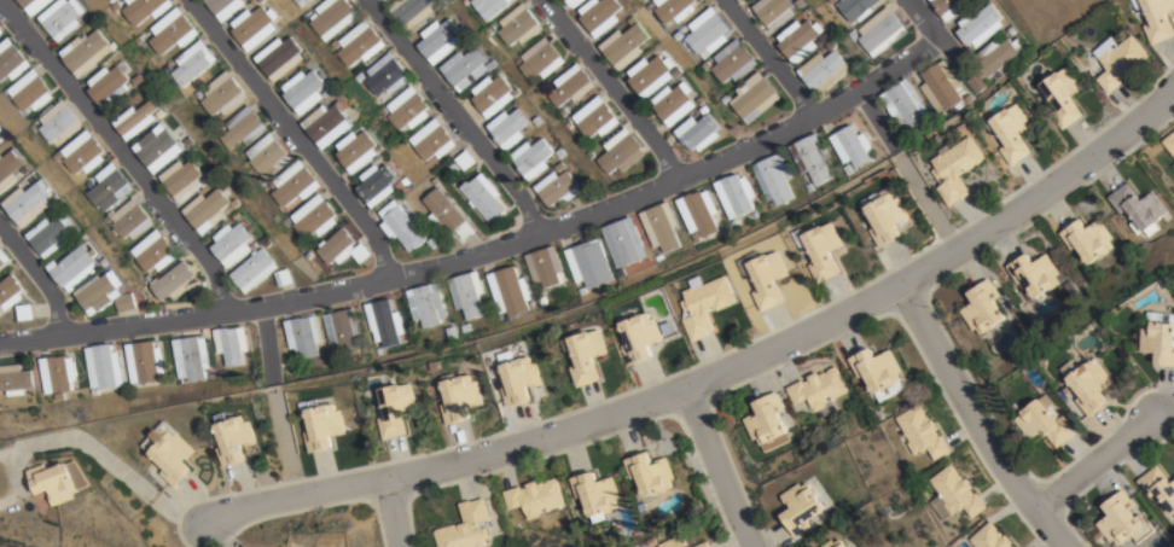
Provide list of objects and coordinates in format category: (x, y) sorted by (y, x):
building: (384, 0)
building: (742, 1)
building: (832, 1)
building: (302, 2)
building: (34, 4)
building: (568, 4)
building: (801, 4)
building: (949, 6)
building: (489, 7)
building: (144, 8)
building: (223, 8)
building: (855, 8)
building: (674, 10)
building: (411, 12)
building: (774, 13)
building: (64, 16)
building: (304, 16)
building: (332, 18)
building: (600, 18)
building: (1156, 18)
road: (923, 21)
building: (1006, 21)
building: (633, 22)
building: (980, 24)
building: (1, 28)
building: (518, 28)
building: (169, 29)
building: (255, 29)
building: (882, 33)
building: (708, 34)
building: (853, 36)
building: (679, 37)
building: (438, 42)
building: (800, 42)
building: (832, 46)
building: (331, 47)
building: (359, 47)
building: (624, 48)
building: (88, 50)
building: (307, 56)
building: (11, 57)
road: (765, 58)
building: (993, 59)
building: (1118, 59)
building: (279, 60)
building: (539, 62)
building: (192, 63)
building: (734, 64)
building: (704, 65)
building: (167, 66)
building: (466, 70)
building: (824, 72)
building: (679, 74)
building: (140, 76)
building: (359, 77)
building: (384, 77)
building: (651, 77)
building: (112, 81)
building: (941, 86)
building: (30, 88)
building: (568, 89)
road: (610, 89)
building: (198, 93)
building: (222, 93)
building: (303, 93)
building: (1063, 94)
building: (326, 95)
building: (969, 97)
building: (493, 98)
building: (725, 98)
building: (755, 100)
building: (702, 104)
building: (905, 104)
building: (675, 106)
building: (162, 110)
building: (406, 111)
building: (705, 111)
road: (453, 115)
building: (136, 117)
building: (59, 120)
building: (595, 121)
building: (539, 123)
building: (33, 124)
building: (243, 126)
building: (326, 127)
building: (1011, 129)
building: (510, 130)
building: (1, 132)
building: (699, 135)
road: (295, 136)
building: (191, 139)
building: (1169, 141)
building: (431, 142)
building: (852, 144)
building: (158, 145)
building: (82, 150)
building: (358, 152)
road: (120, 153)
building: (268, 155)
building: (562, 155)
building: (620, 155)
building: (810, 155)
building: (244, 156)
building: (464, 159)
building: (534, 161)
building: (12, 165)
building: (955, 165)
building: (1173, 165)
building: (453, 168)
building: (562, 169)
building: (848, 169)
building: (214, 171)
building: (184, 176)
building: (773, 176)
building: (295, 181)
building: (407, 181)
building: (271, 182)
building: (109, 185)
building: (808, 186)
building: (376, 187)
building: (734, 191)
building: (559, 192)
building: (483, 197)
building: (29, 200)
building: (237, 200)
building: (1138, 205)
building: (209, 208)
building: (699, 210)
building: (752, 213)
building: (314, 215)
building: (448, 215)
building: (887, 215)
building: (107, 217)
building: (130, 217)
building: (285, 221)
building: (732, 221)
building: (659, 225)
building: (402, 226)
building: (53, 233)
building: (693, 235)
building: (1086, 237)
building: (624, 239)
building: (234, 242)
building: (269, 242)
building: (337, 245)
building: (820, 248)
building: (153, 249)
road: (488, 249)
building: (361, 251)
building: (307, 254)
building: (4, 256)
building: (657, 256)
building: (107, 261)
building: (589, 262)
building: (545, 263)
building: (76, 266)
building: (256, 268)
building: (1034, 270)
building: (621, 273)
building: (285, 275)
building: (765, 275)
road: (37, 279)
building: (173, 279)
building: (197, 289)
building: (510, 289)
building: (10, 290)
building: (106, 292)
building: (467, 292)
building: (542, 301)
building: (426, 302)
building: (705, 302)
building: (982, 305)
building: (25, 310)
building: (384, 321)
building: (465, 326)
building: (344, 328)
building: (452, 332)
building: (302, 334)
building: (640, 334)
building: (1160, 336)
building: (231, 342)
building: (588, 355)
building: (191, 356)
building: (332, 359)
building: (144, 360)
building: (104, 365)
building: (878, 369)
building: (57, 372)
building: (519, 376)
building: (14, 378)
building: (1091, 384)
building: (820, 389)
building: (93, 391)
building: (460, 395)
building: (396, 407)
building: (1015, 407)
road: (603, 415)
building: (1045, 419)
road: (975, 420)
building: (767, 421)
building: (324, 424)
building: (922, 431)
building: (236, 437)
building: (170, 452)
road: (1094, 460)
road: (715, 466)
building: (649, 472)
building: (58, 479)
building: (1160, 488)
building: (594, 493)
building: (954, 494)
building: (535, 496)
building: (640, 506)
building: (801, 506)
road: (393, 511)
building: (1123, 519)
building: (466, 526)
building: (989, 536)
building: (650, 541)
building: (673, 542)
building: (641, 543)
building: (703, 543)
building: (838, 543)
building: (285, 546)

